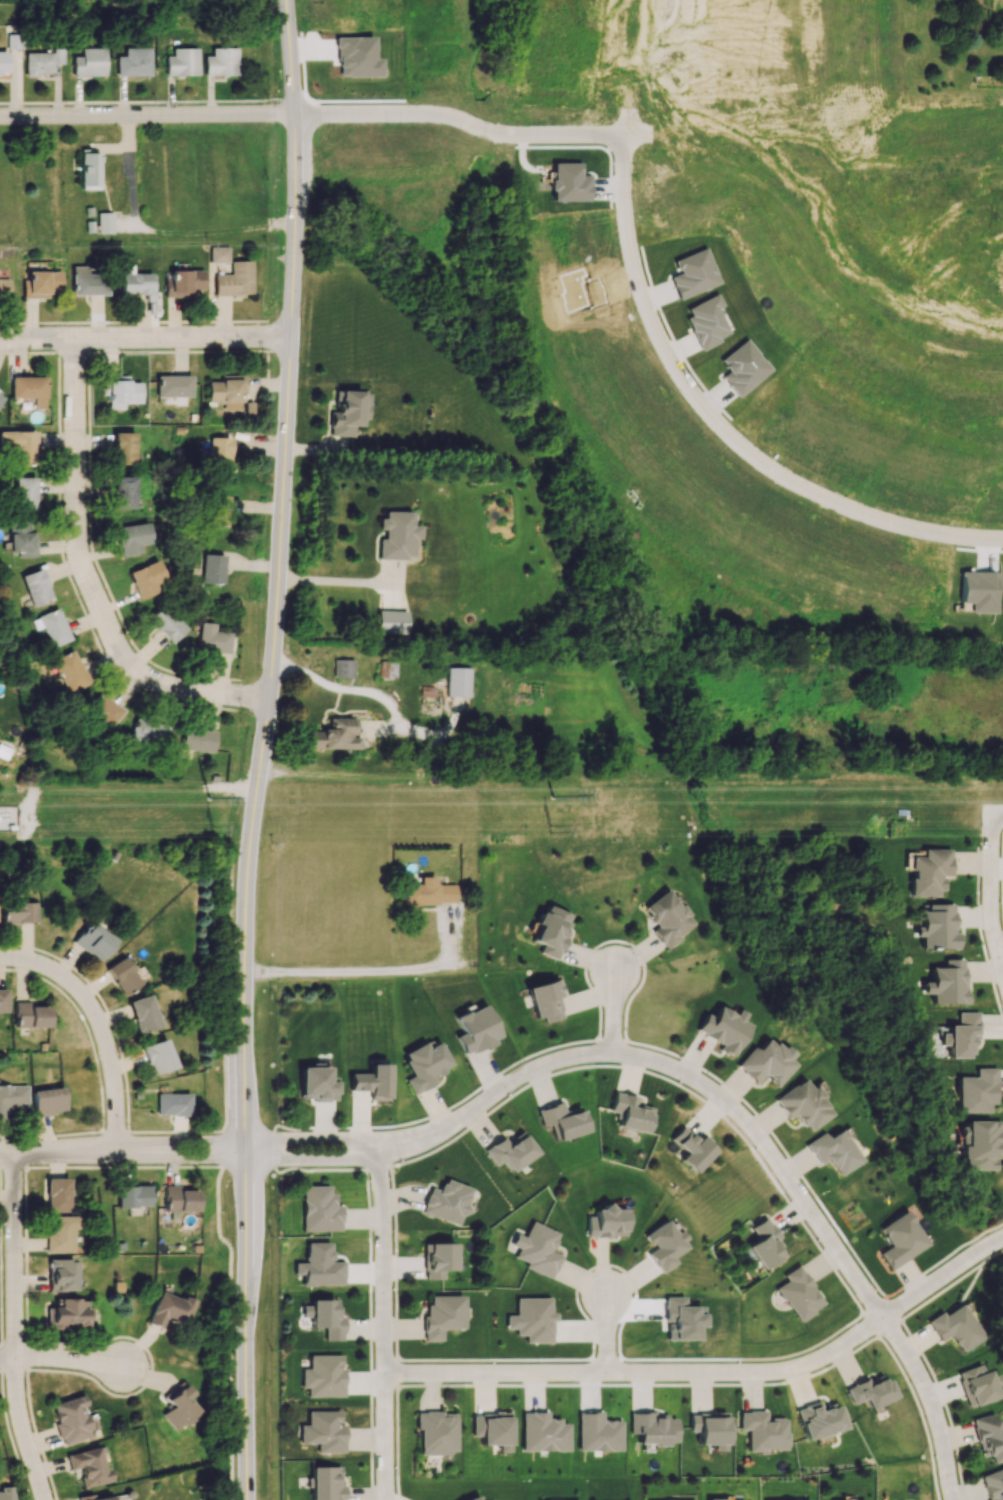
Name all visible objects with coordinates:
building: (15, 41)
building: (3, 61)
building: (89, 62)
building: (134, 62)
building: (182, 62)
building: (221, 62)
building: (38, 63)
road: (635, 66)
road: (147, 117)
road: (462, 119)
building: (89, 170)
road: (823, 203)
building: (105, 222)
road: (219, 234)
building: (218, 254)
building: (694, 273)
building: (235, 280)
building: (87, 282)
building: (183, 282)
building: (42, 283)
building: (136, 284)
building: (4, 289)
building: (707, 321)
road: (654, 323)
road: (146, 341)
building: (743, 367)
building: (173, 385)
building: (29, 389)
building: (121, 391)
building: (226, 392)
building: (347, 412)
building: (19, 445)
building: (123, 448)
building: (219, 453)
building: (124, 491)
building: (24, 492)
road: (885, 519)
building: (397, 535)
building: (133, 537)
building: (22, 538)
building: (212, 568)
road: (92, 579)
building: (143, 580)
building: (35, 587)
building: (392, 621)
building: (165, 624)
building: (52, 627)
building: (212, 638)
building: (343, 668)
building: (387, 669)
building: (70, 671)
building: (458, 682)
road: (377, 693)
building: (106, 709)
building: (149, 735)
building: (335, 735)
building: (196, 741)
road: (263, 749)
road: (373, 781)
power tower: (553, 803)
power tower: (209, 805)
road: (997, 810)
power tower: (215, 831)
power tower: (555, 831)
building: (929, 871)
building: (428, 892)
road: (990, 893)
building: (18, 912)
building: (667, 918)
building: (937, 927)
building: (551, 931)
building: (93, 941)
road: (376, 971)
building: (122, 975)
building: (948, 982)
building: (3, 1000)
building: (544, 1001)
road: (612, 1012)
building: (143, 1014)
building: (30, 1015)
road: (100, 1025)
building: (475, 1029)
building: (723, 1029)
building: (961, 1034)
building: (158, 1056)
building: (766, 1062)
building: (424, 1065)
building: (371, 1082)
building: (316, 1084)
building: (976, 1091)
building: (12, 1098)
building: (47, 1100)
building: (172, 1104)
building: (803, 1105)
building: (630, 1113)
building: (562, 1120)
road: (752, 1129)
road: (311, 1139)
building: (980, 1145)
building: (692, 1149)
road: (124, 1150)
building: (510, 1151)
building: (833, 1151)
road: (311, 1160)
building: (57, 1195)
building: (133, 1195)
building: (180, 1199)
building: (446, 1201)
building: (319, 1209)
building: (606, 1222)
building: (60, 1233)
building: (901, 1239)
building: (765, 1244)
building: (663, 1245)
building: (537, 1249)
building: (436, 1259)
building: (319, 1266)
building: (60, 1275)
road: (915, 1276)
building: (799, 1294)
building: (170, 1310)
building: (66, 1314)
building: (441, 1315)
building: (325, 1317)
building: (532, 1319)
road: (383, 1324)
building: (955, 1327)
road: (15, 1330)
road: (605, 1333)
road: (63, 1362)
road: (711, 1372)
building: (323, 1376)
building: (977, 1385)
building: (871, 1391)
building: (177, 1406)
building: (70, 1420)
building: (818, 1420)
building: (652, 1428)
building: (491, 1429)
building: (709, 1429)
building: (763, 1430)
building: (323, 1431)
building: (436, 1432)
building: (542, 1432)
building: (596, 1432)
building: (988, 1437)
building: (89, 1466)
building: (326, 1483)
building: (993, 1484)
building: (6, 1493)
building: (92, 1497)
building: (472, 1498)
building: (716, 1499)

